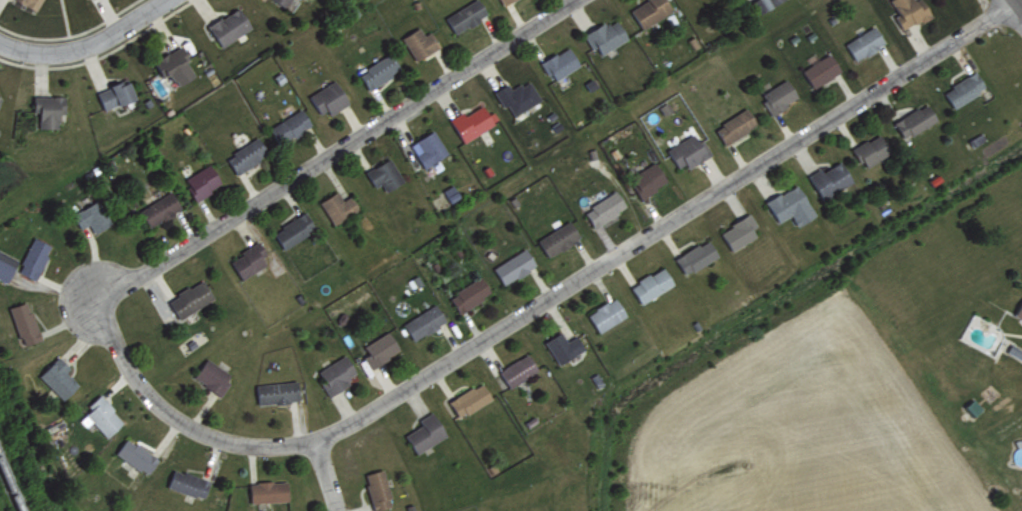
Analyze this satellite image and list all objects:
building: (502, 0)
building: (283, 1)
building: (30, 2)
building: (763, 3)
building: (649, 10)
road: (1013, 11)
building: (908, 12)
building: (464, 14)
building: (228, 25)
building: (605, 35)
building: (418, 41)
building: (863, 41)
road: (83, 42)
building: (560, 62)
building: (173, 63)
building: (820, 69)
building: (376, 71)
building: (963, 88)
building: (114, 93)
building: (777, 94)
building: (0, 95)
building: (516, 95)
building: (327, 97)
building: (48, 108)
building: (913, 119)
building: (471, 121)
building: (291, 123)
building: (734, 124)
road: (366, 128)
building: (427, 147)
building: (870, 148)
building: (687, 150)
building: (245, 154)
building: (383, 174)
building: (647, 178)
building: (829, 178)
building: (202, 181)
building: (790, 204)
building: (338, 206)
building: (604, 207)
building: (157, 208)
building: (91, 215)
building: (293, 228)
building: (738, 230)
building: (558, 237)
building: (695, 255)
building: (33, 257)
building: (248, 259)
building: (6, 264)
building: (513, 265)
building: (651, 284)
building: (469, 293)
building: (188, 298)
building: (1018, 309)
building: (606, 313)
building: (23, 321)
building: (423, 321)
road: (505, 322)
building: (562, 346)
building: (379, 348)
building: (1014, 350)
building: (517, 369)
building: (335, 373)
building: (211, 375)
building: (57, 376)
building: (275, 391)
building: (468, 398)
building: (100, 415)
building: (424, 432)
building: (136, 454)
road: (325, 476)
building: (187, 482)
railway: (11, 484)
building: (377, 488)
building: (268, 490)

